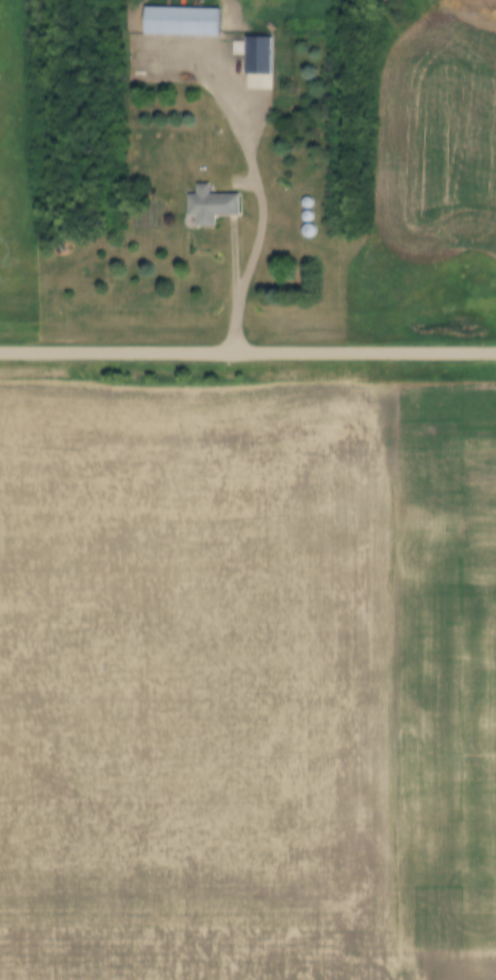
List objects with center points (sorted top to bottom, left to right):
building: (185, 22)
building: (261, 55)
road: (262, 180)
building: (215, 207)
road: (248, 350)

